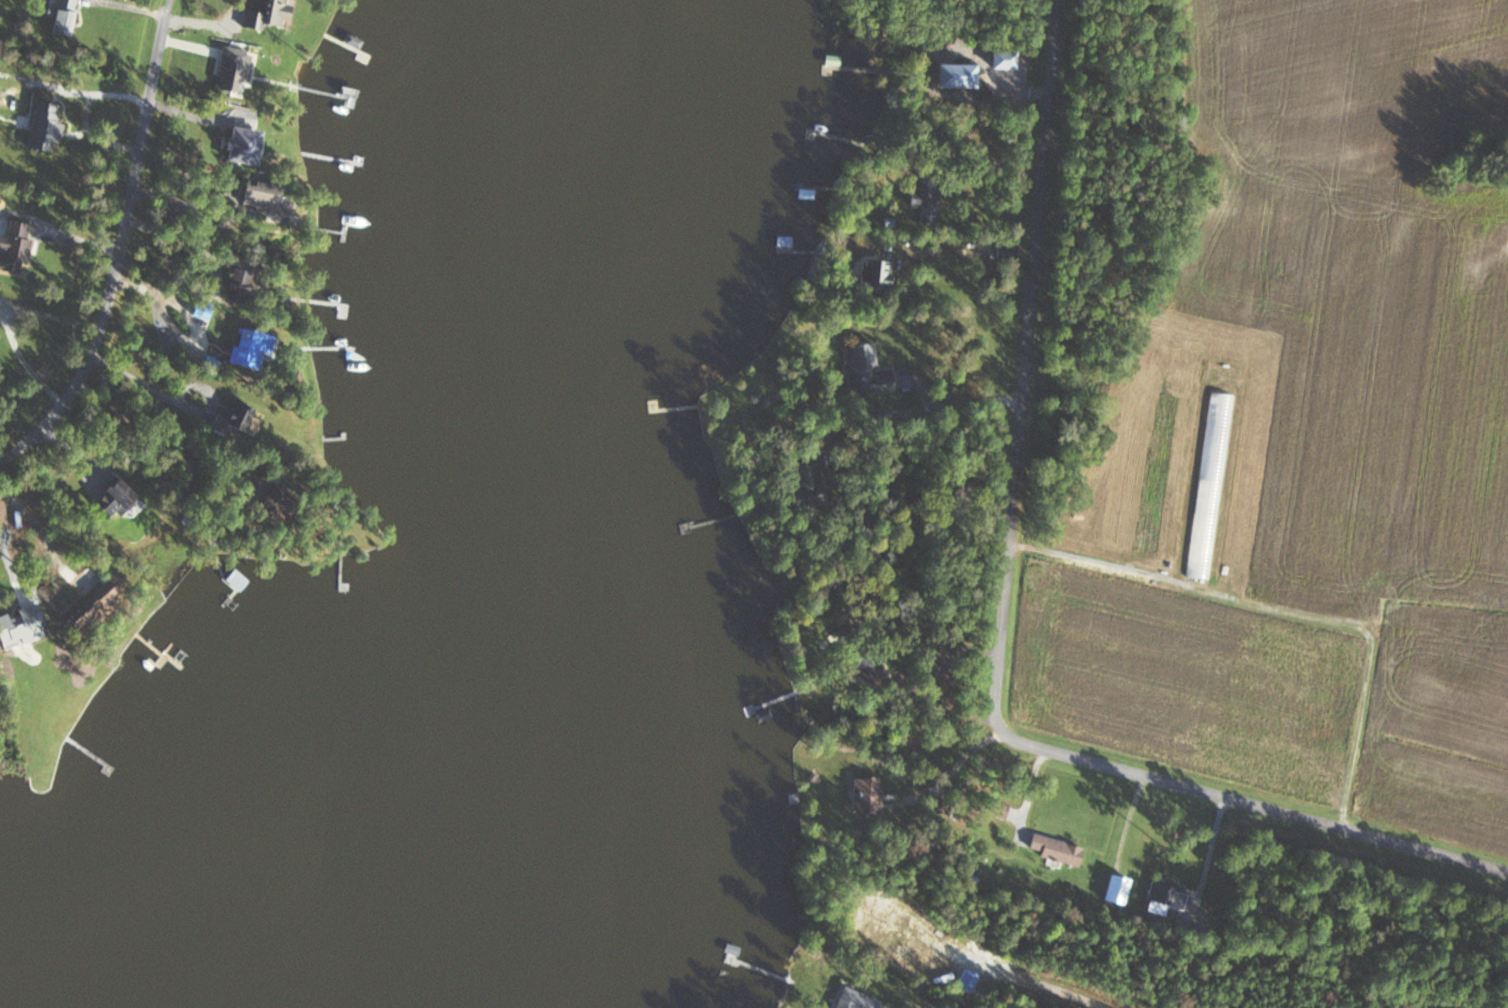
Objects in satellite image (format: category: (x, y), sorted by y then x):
building: (269, 15)
building: (60, 17)
building: (829, 60)
building: (999, 61)
building: (236, 70)
building: (949, 75)
building: (42, 125)
building: (240, 144)
building: (255, 193)
building: (920, 201)
building: (12, 245)
road: (119, 251)
building: (872, 272)
building: (239, 280)
road: (167, 304)
road: (8, 324)
building: (244, 350)
road: (147, 385)
road: (909, 410)
building: (243, 420)
building: (1208, 484)
building: (113, 498)
road: (1092, 555)
building: (233, 579)
road: (998, 628)
building: (856, 788)
building: (996, 808)
building: (1053, 849)
road: (1204, 853)
building: (1114, 889)
building: (1161, 899)
building: (841, 1001)

